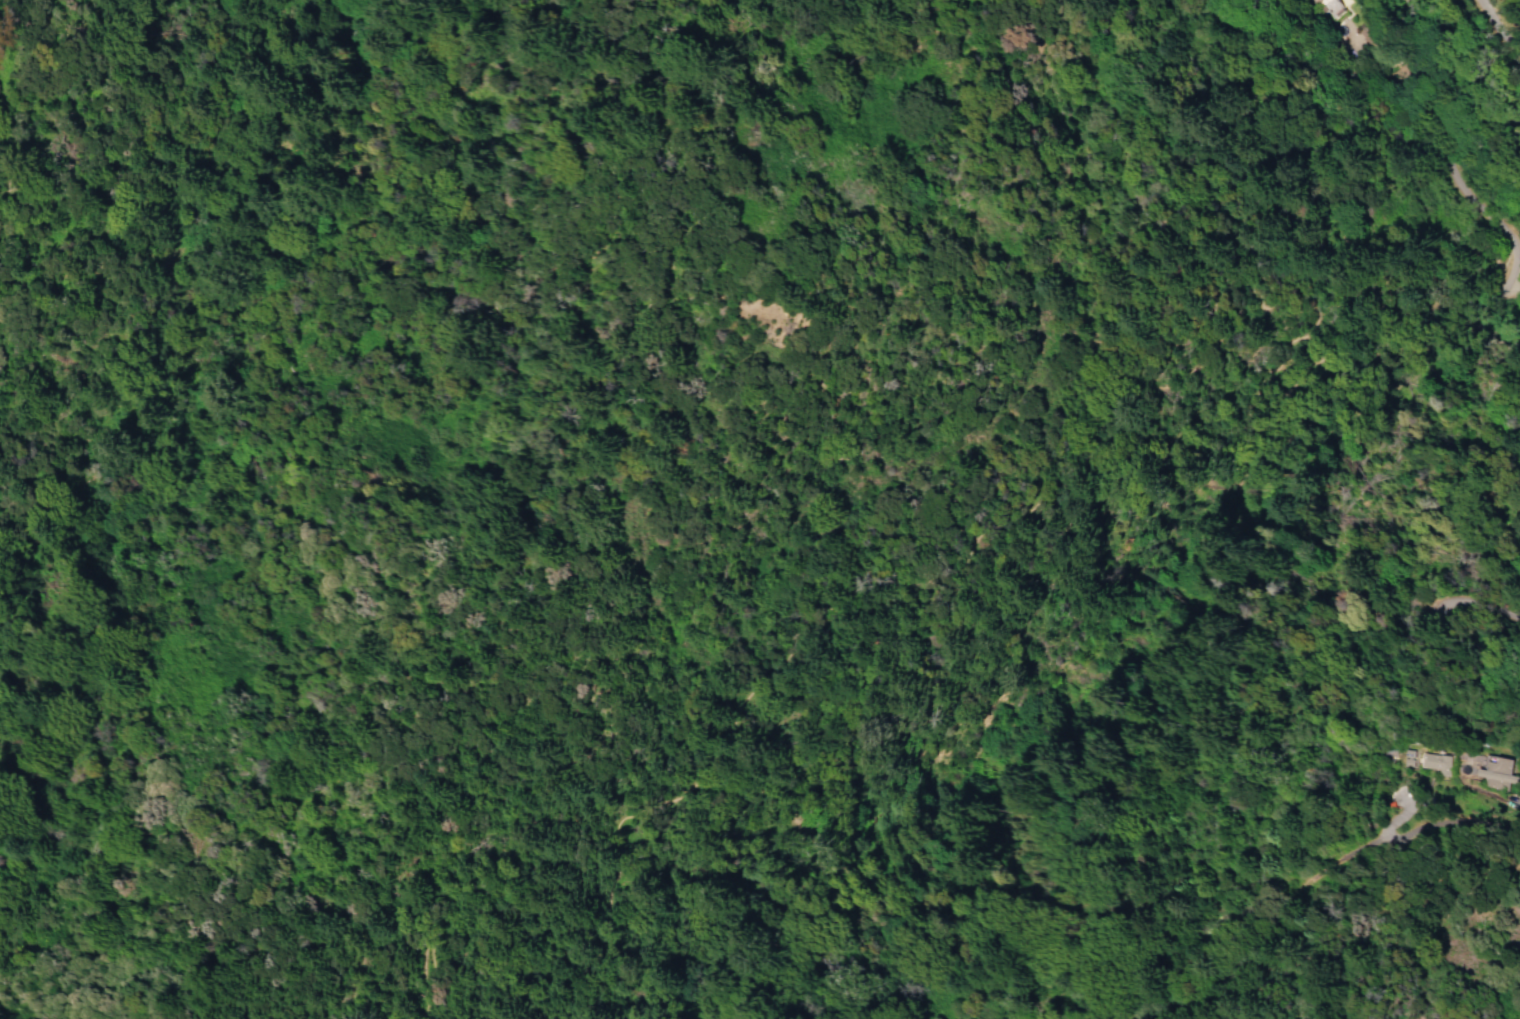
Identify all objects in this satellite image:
building: (1329, 7)
road: (1424, 9)
road: (1495, 31)
road: (1422, 32)
road: (1445, 160)
road: (1480, 302)
road: (1088, 429)
building: (1407, 759)
building: (1434, 763)
building: (1498, 775)
road: (1509, 799)
road: (424, 939)
road: (247, 982)

